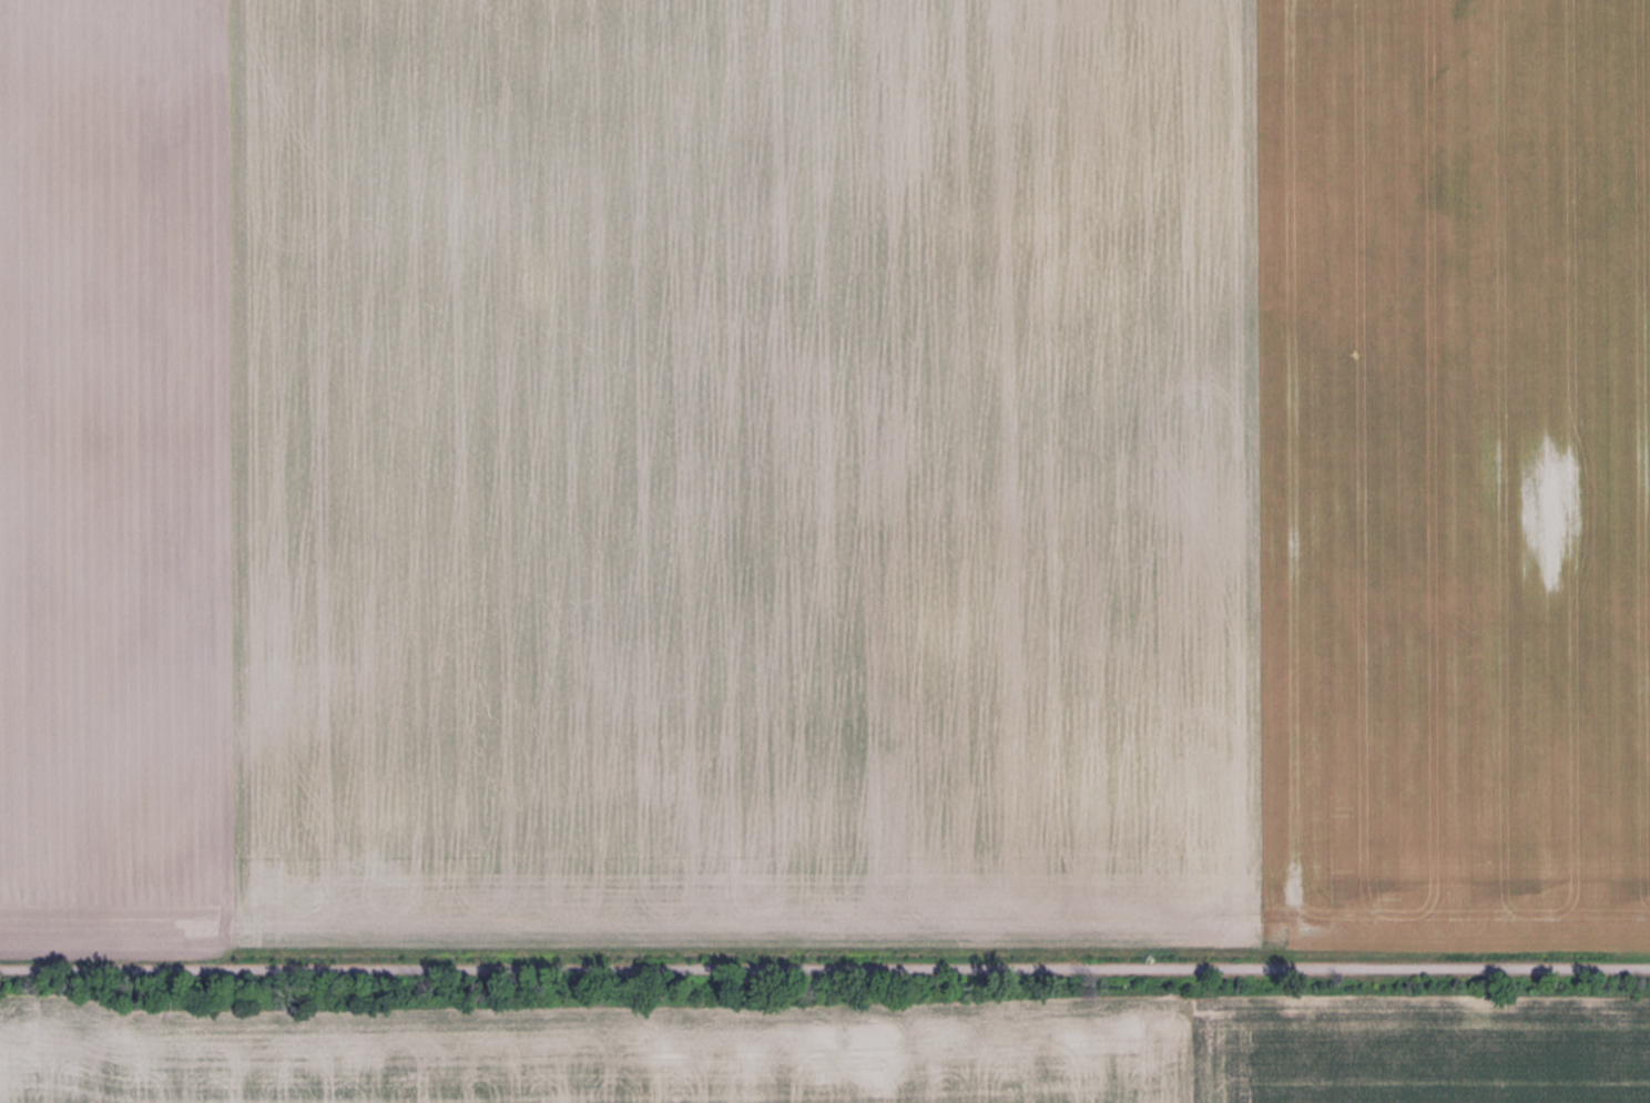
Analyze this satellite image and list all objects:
road: (825, 964)

